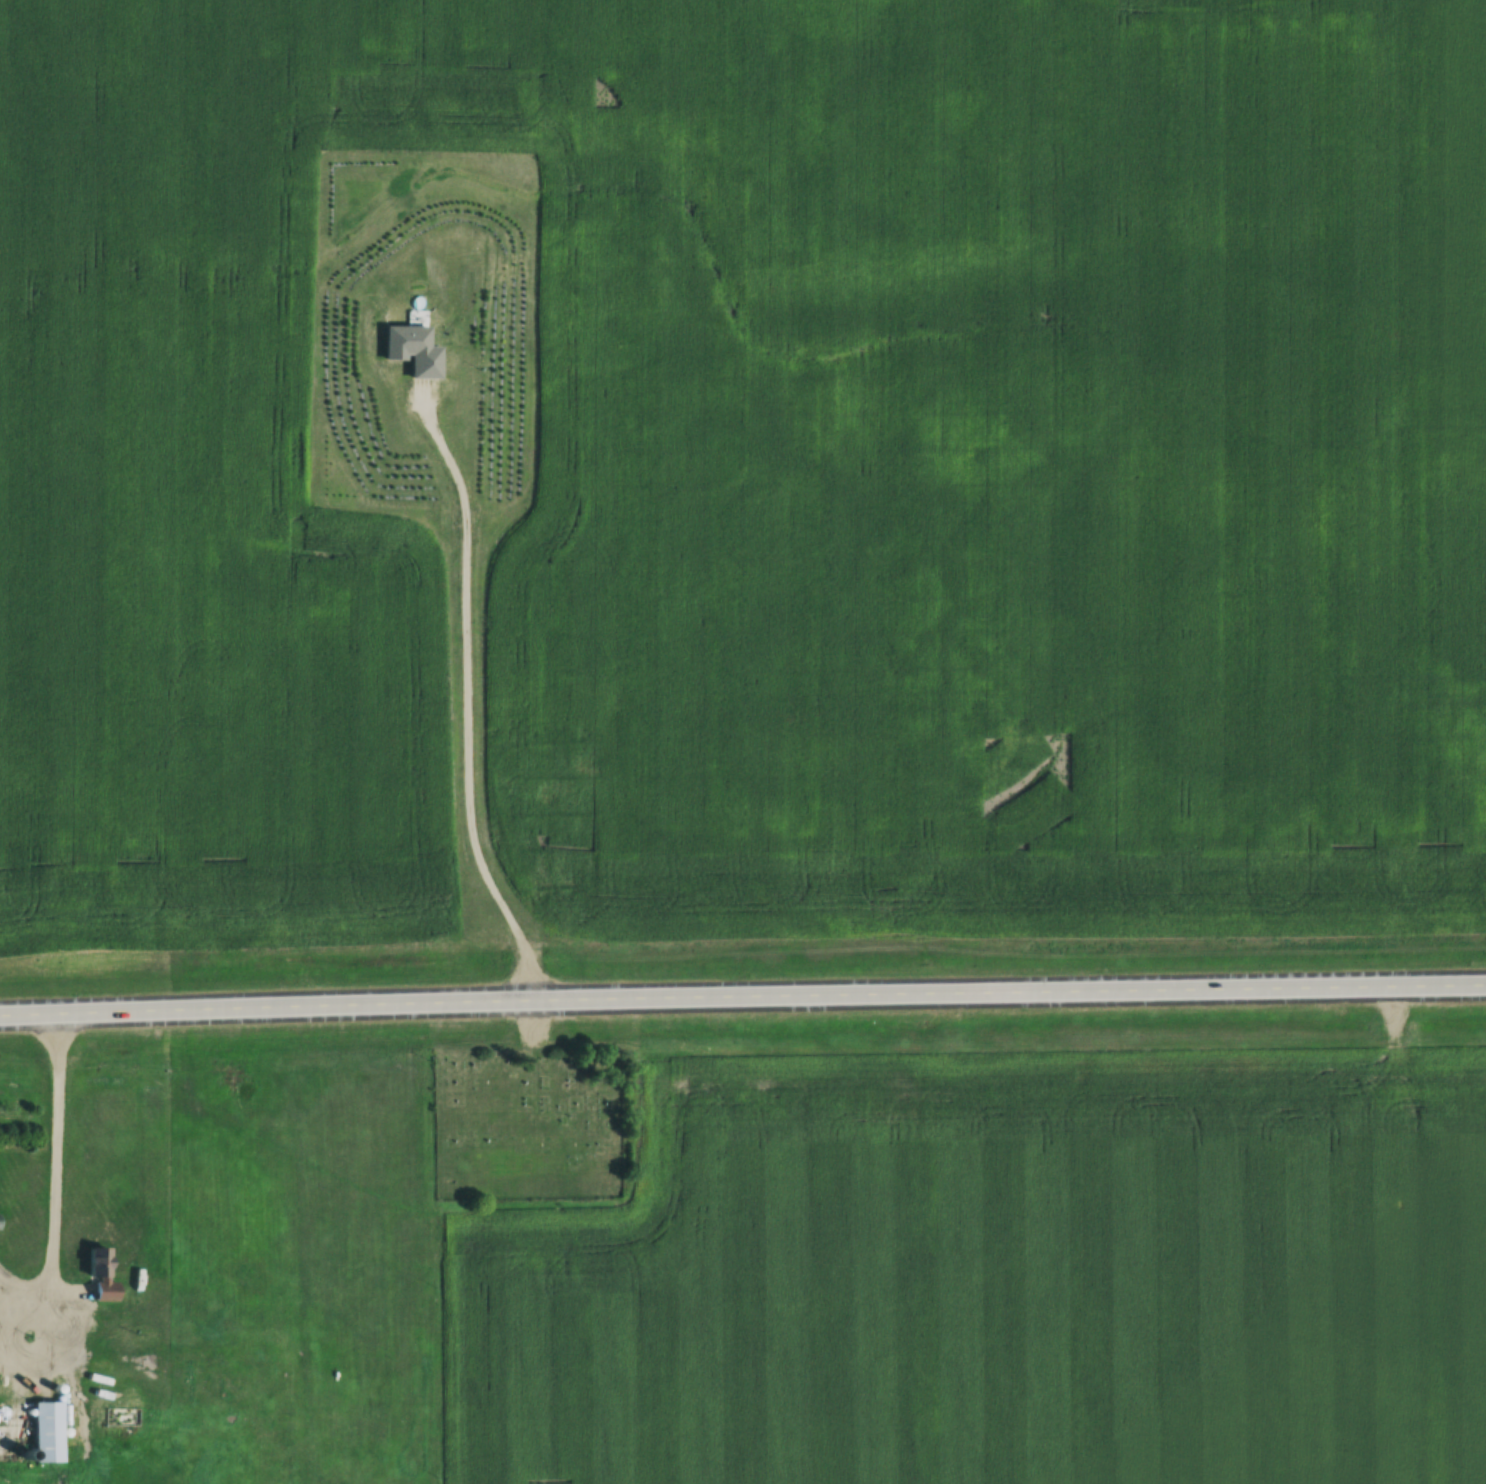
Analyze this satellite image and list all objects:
road: (743, 1012)
building: (107, 1276)
building: (126, 1418)
building: (52, 1432)

